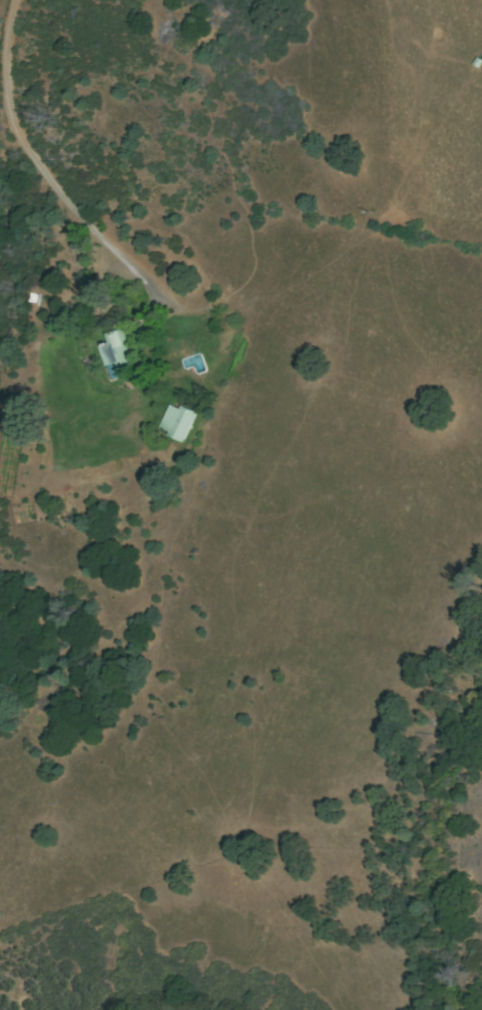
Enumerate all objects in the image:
building: (118, 355)
building: (178, 422)

